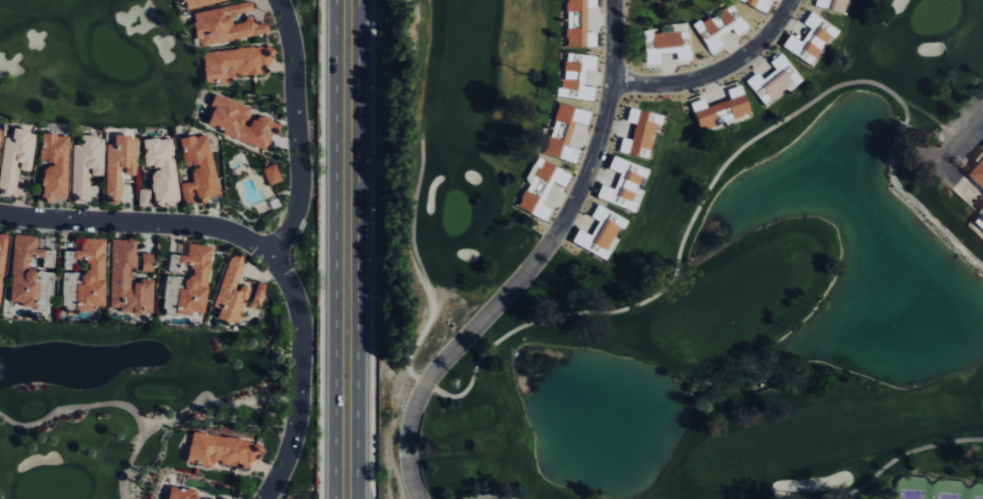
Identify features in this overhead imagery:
building: (198, 3)
building: (755, 4)
building: (830, 5)
building: (577, 24)
building: (222, 26)
building: (719, 29)
building: (809, 40)
building: (665, 44)
park: (94, 61)
building: (233, 63)
road: (717, 71)
building: (576, 77)
building: (772, 81)
building: (719, 109)
building: (238, 124)
building: (638, 132)
building: (563, 133)
road: (951, 145)
building: (14, 159)
building: (84, 165)
building: (51, 166)
building: (117, 166)
building: (159, 169)
building: (196, 170)
building: (976, 174)
building: (270, 175)
park: (445, 180)
building: (623, 185)
building: (539, 189)
building: (141, 198)
building: (979, 218)
road: (141, 223)
building: (599, 234)
building: (1, 247)
road: (351, 249)
road: (280, 251)
building: (143, 263)
road: (535, 263)
building: (26, 275)
building: (81, 277)
building: (125, 281)
building: (185, 283)
building: (229, 292)
building: (256, 295)
park: (747, 310)
park: (102, 402)
building: (219, 450)
road: (896, 458)
building: (178, 493)
park: (911, 494)
road: (489, 495)
park: (947, 496)
building: (219, 498)
park: (978, 498)

